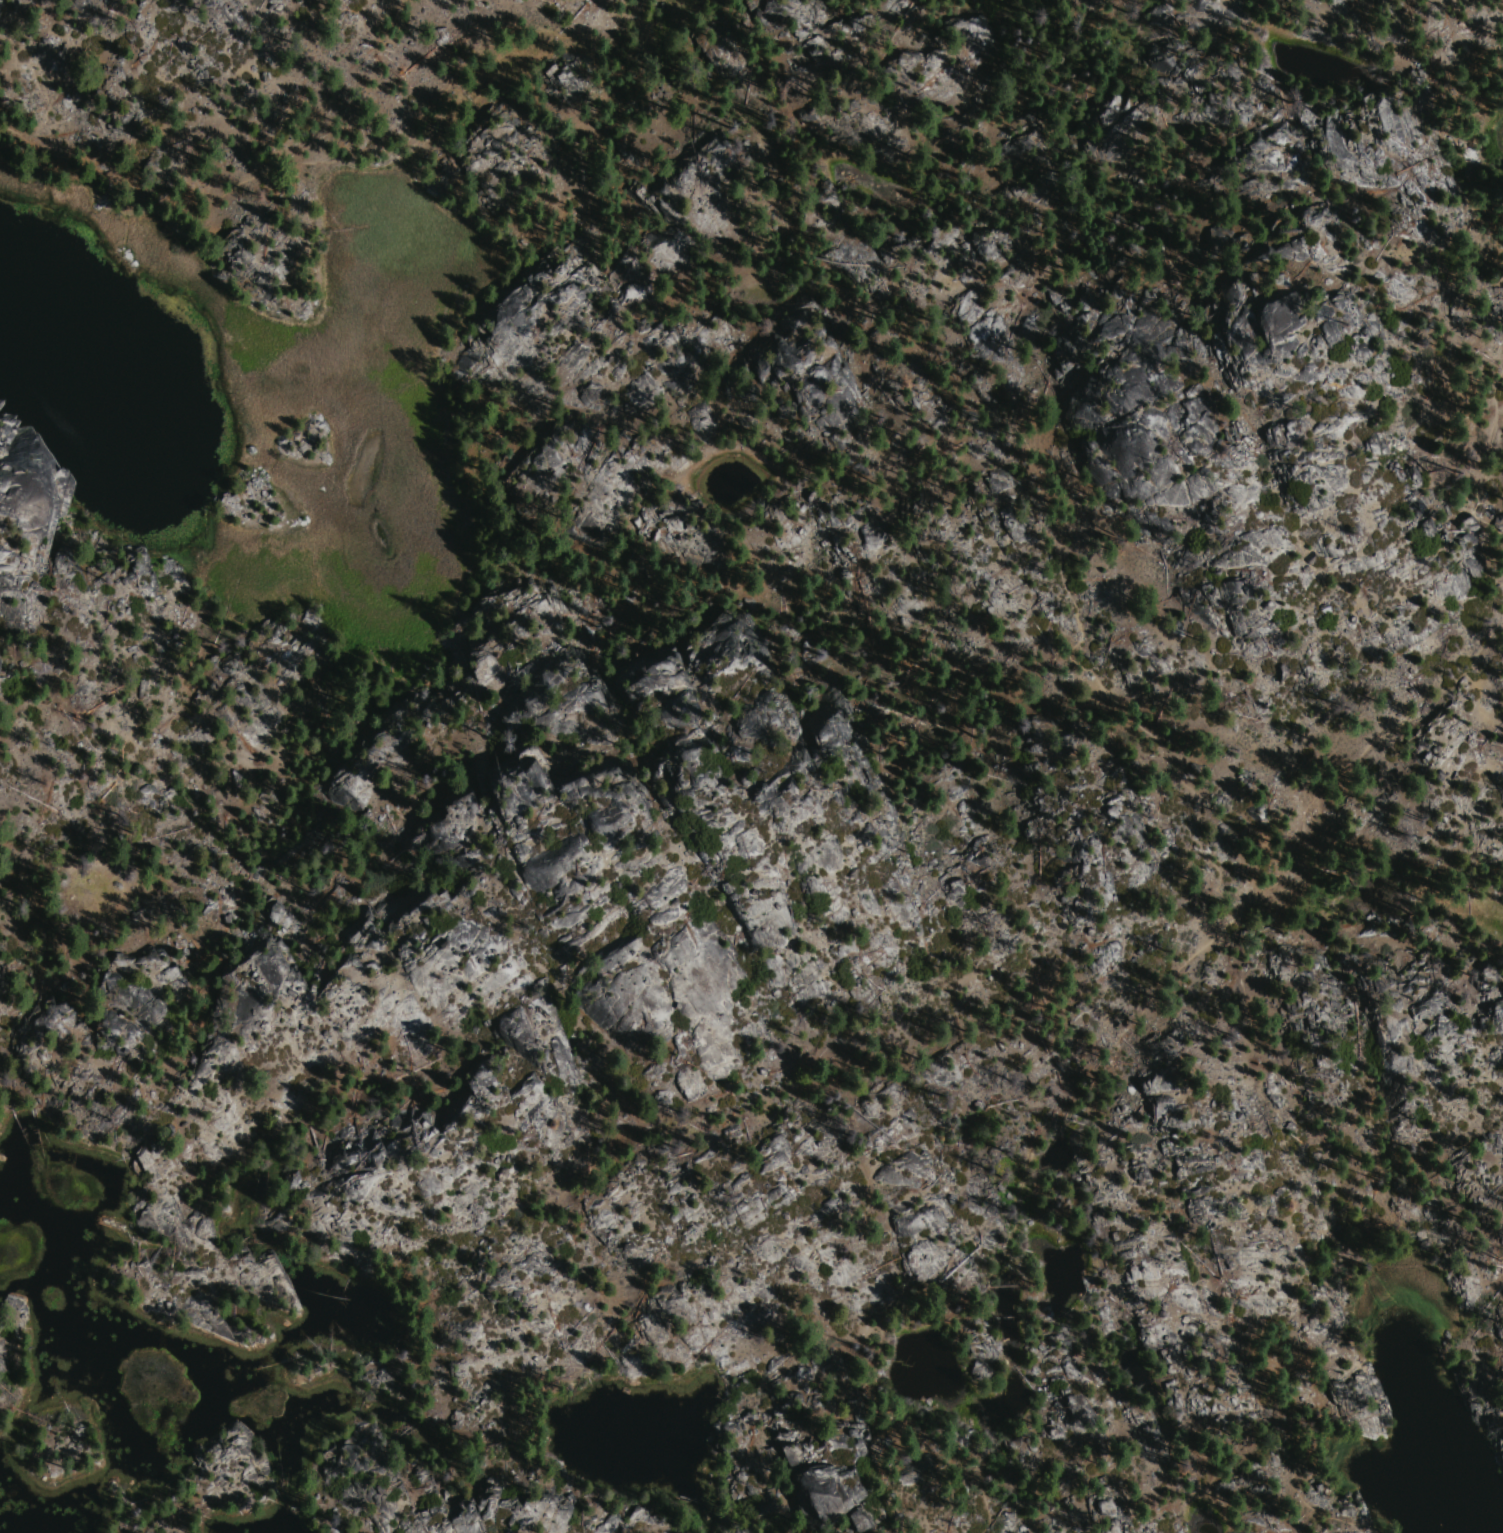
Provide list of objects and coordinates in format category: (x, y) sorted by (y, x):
road: (777, 177)
road: (1486, 443)
road: (1092, 1066)
road: (1297, 1250)

